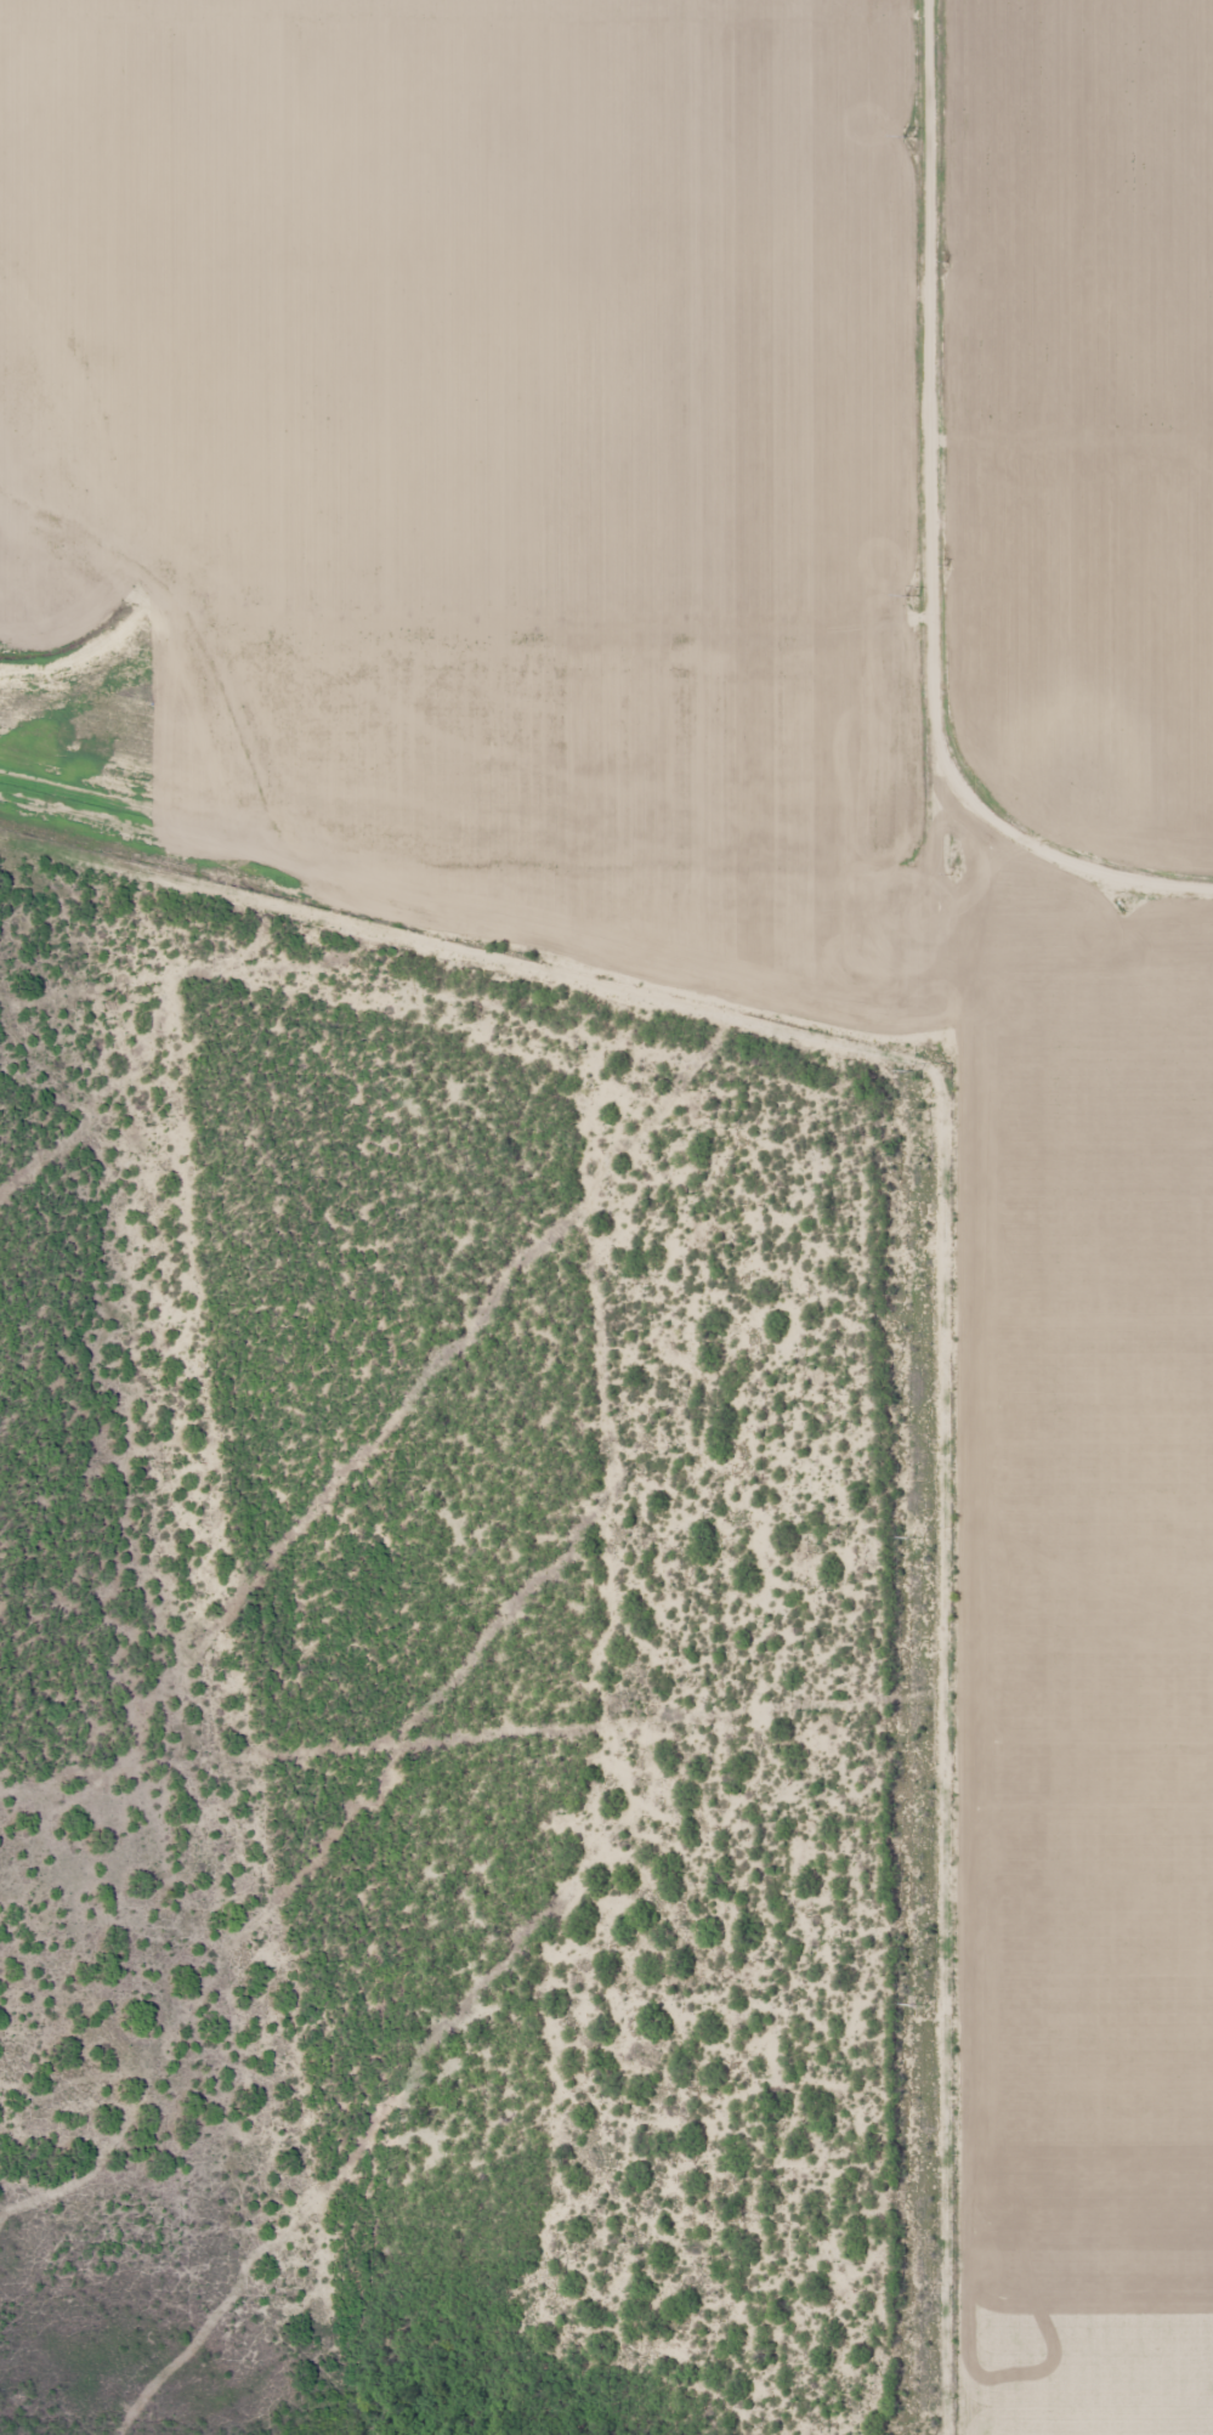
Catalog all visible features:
power tower: (911, 136)
power tower: (912, 595)
road: (478, 919)
power tower: (918, 1071)
road: (930, 1218)
power tower: (922, 1536)
power tower: (923, 2004)

